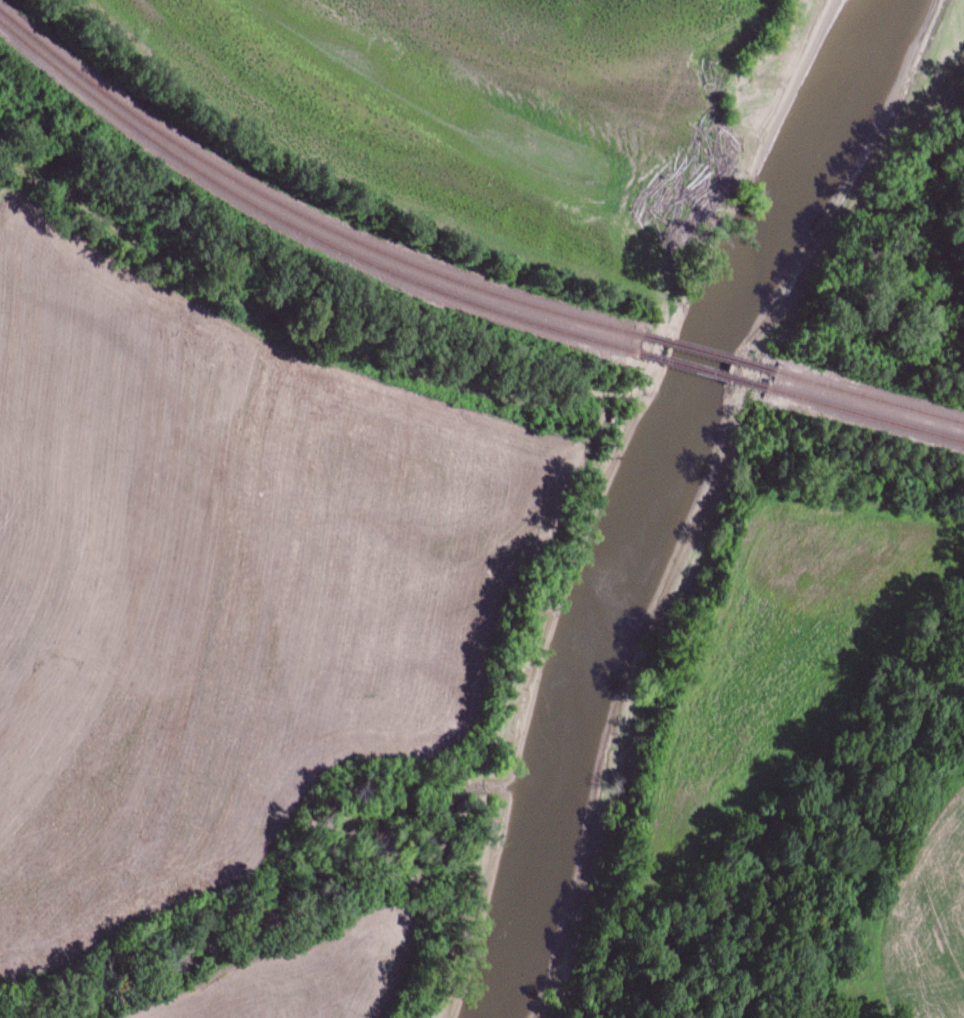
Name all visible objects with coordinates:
railway: (299, 212)
railway: (296, 228)
railway: (706, 352)
railway: (700, 370)
railway: (868, 397)
railway: (864, 415)

